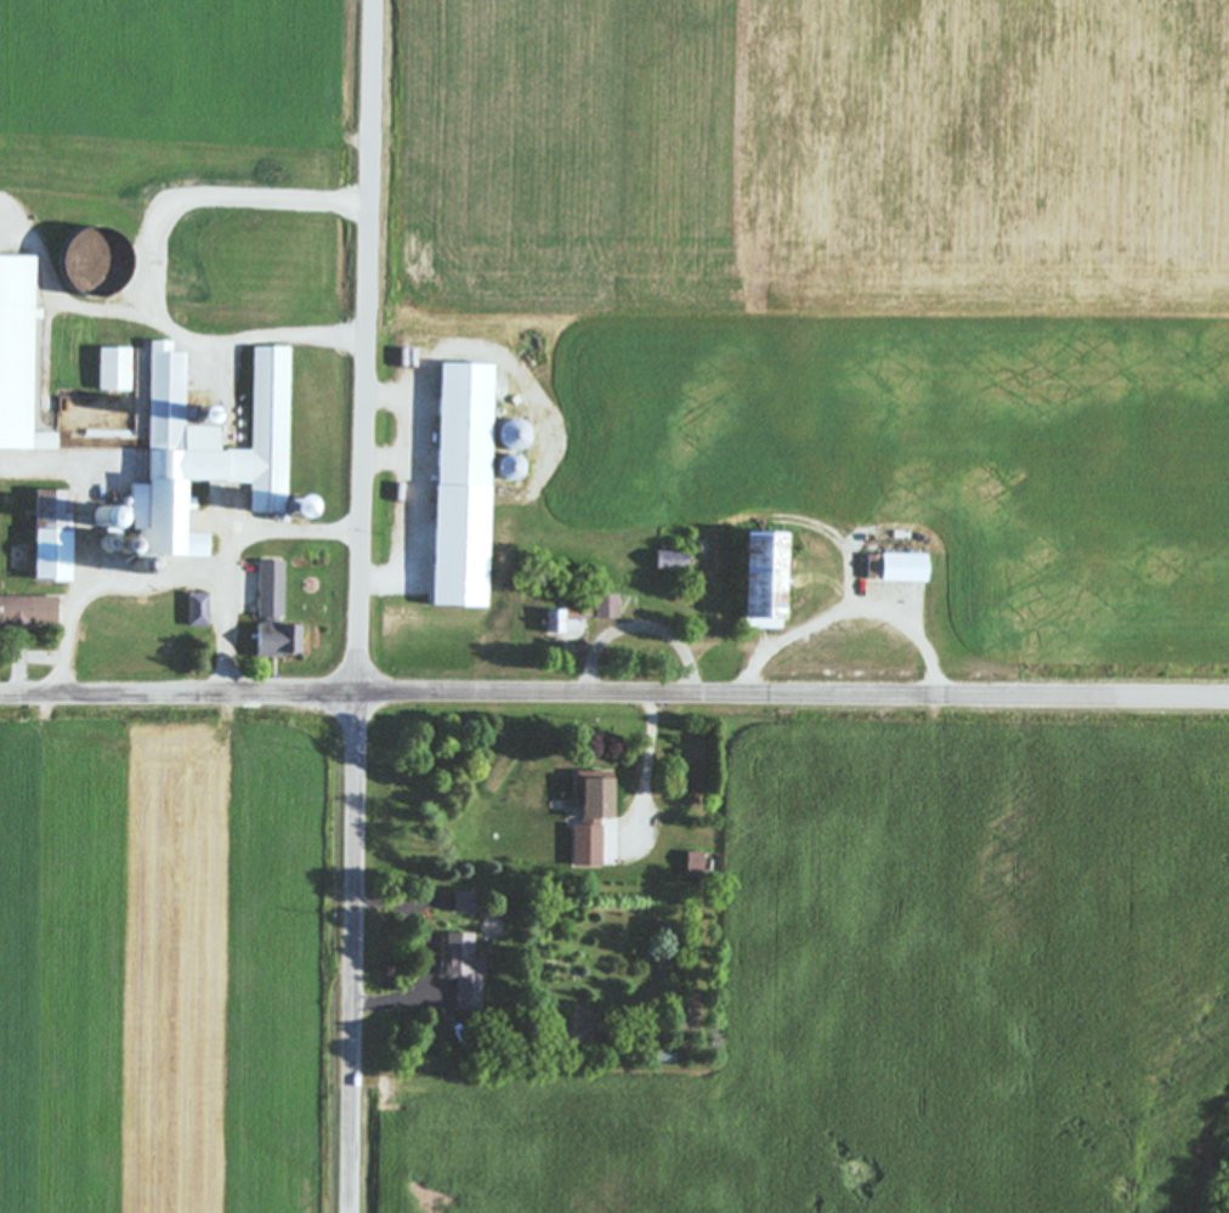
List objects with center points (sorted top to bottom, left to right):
road: (213, 340)
building: (16, 356)
building: (111, 369)
building: (162, 382)
building: (210, 459)
building: (454, 484)
building: (55, 531)
building: (193, 545)
building: (896, 568)
road: (183, 572)
building: (757, 579)
road: (364, 606)
building: (601, 607)
building: (194, 610)
road: (853, 611)
building: (24, 612)
building: (270, 617)
building: (557, 623)
road: (644, 624)
road: (228, 635)
road: (613, 698)
road: (650, 753)
building: (585, 799)
building: (580, 846)
building: (690, 862)
road: (435, 952)
building: (461, 971)

